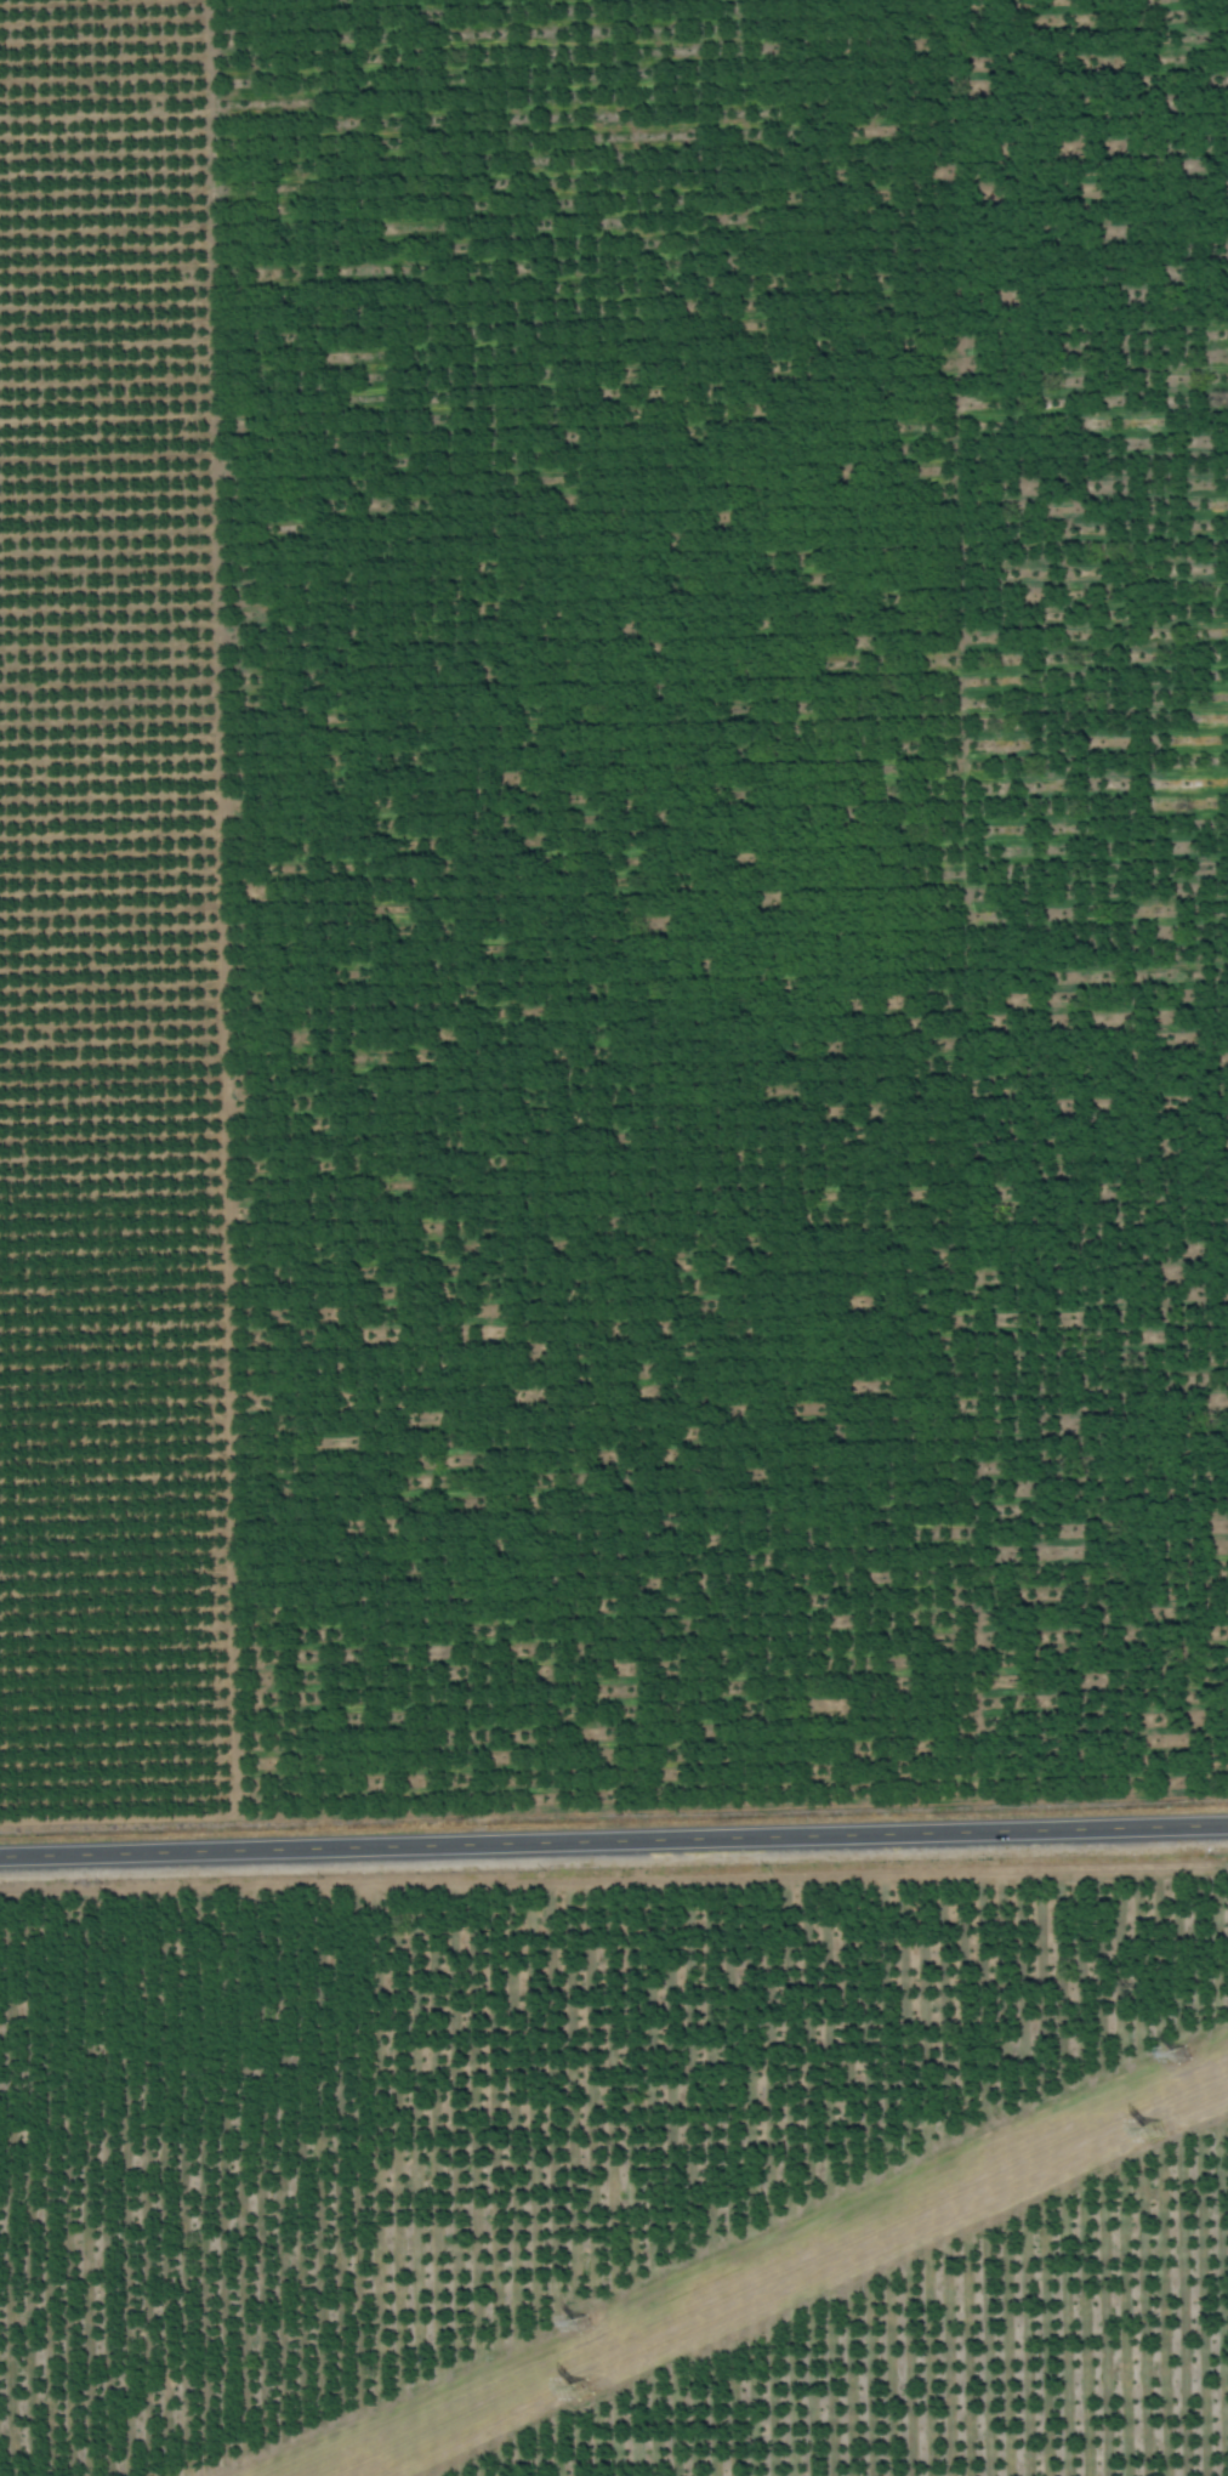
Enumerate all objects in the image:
road: (614, 1846)
power tower: (1179, 2058)
power tower: (1154, 2133)
power tower: (578, 2329)
power tower: (579, 2391)

